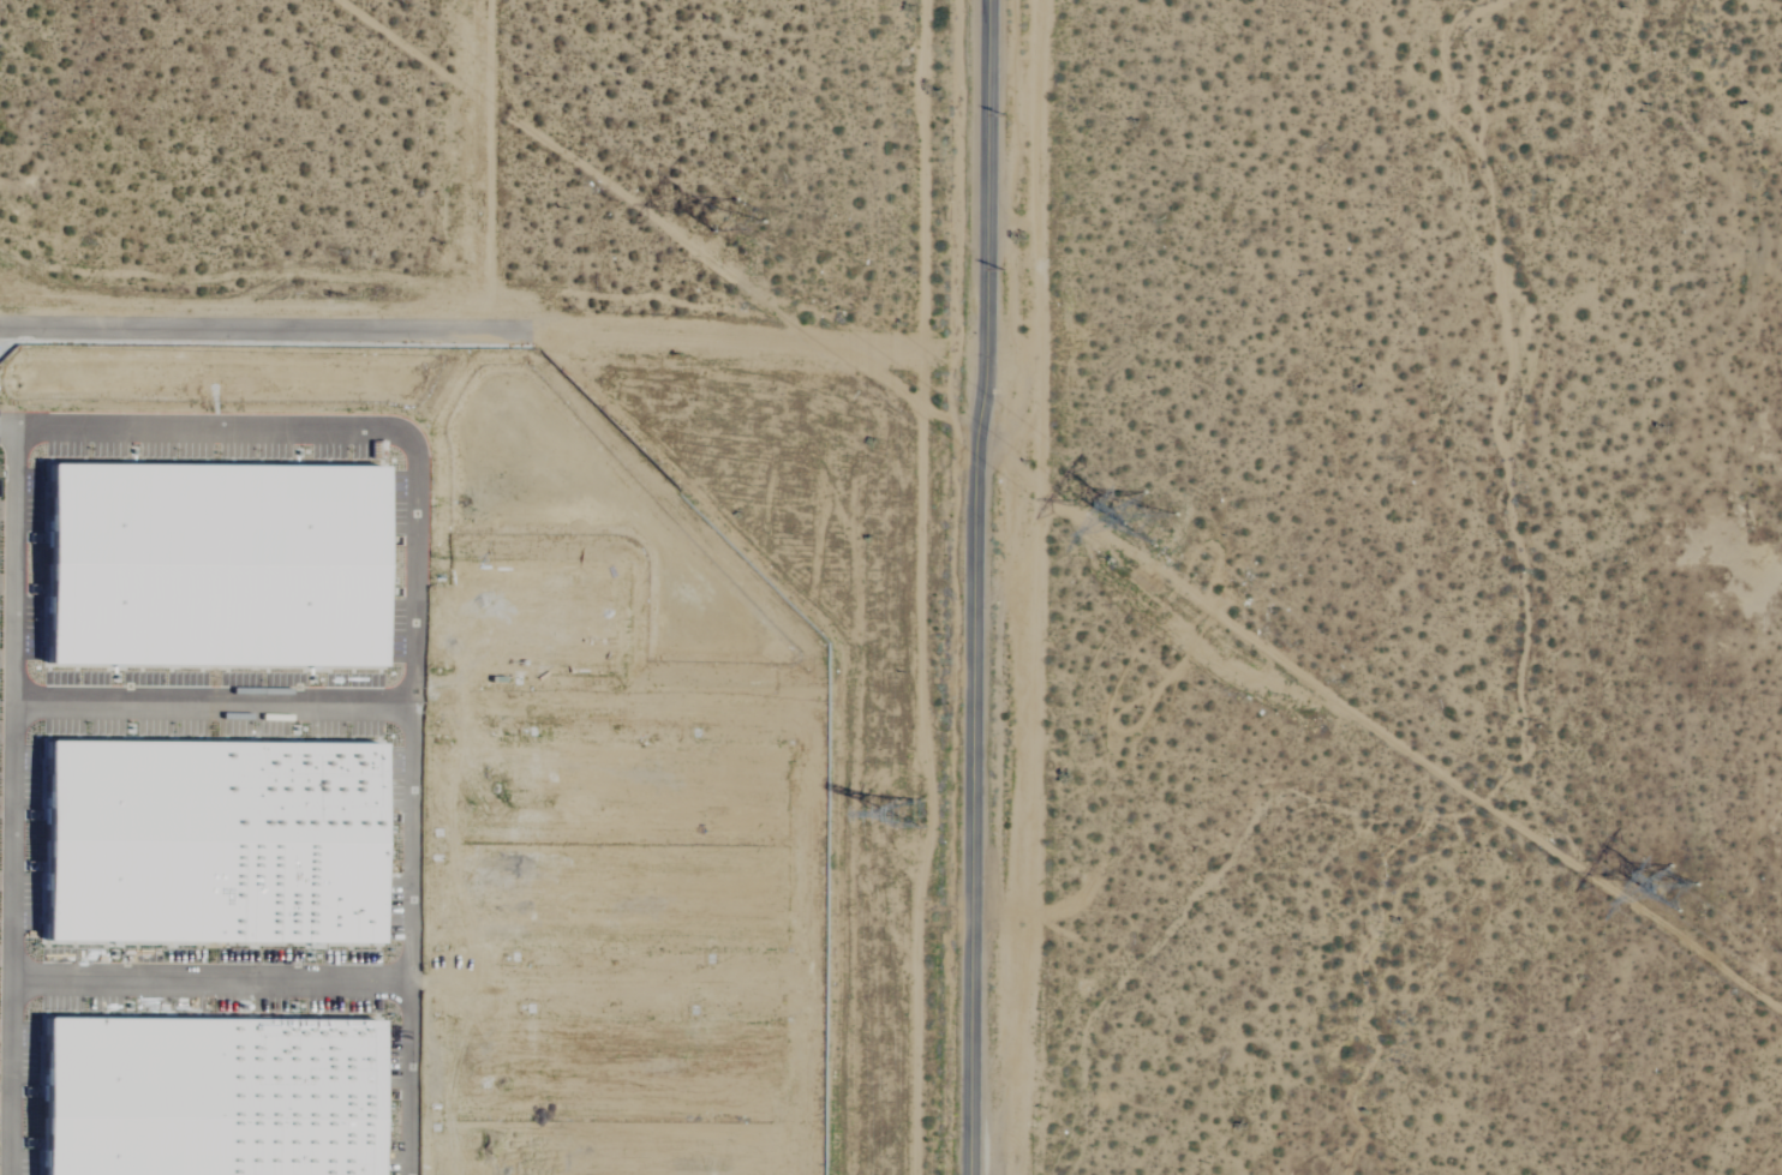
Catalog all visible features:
road: (498, 166)
power tower: (725, 230)
road: (262, 329)
road: (753, 341)
road: (348, 428)
power tower: (1134, 521)
building: (207, 568)
road: (977, 587)
road: (297, 713)
power tower: (921, 808)
building: (208, 843)
power tower: (1674, 887)
road: (11, 942)
road: (211, 981)
building: (203, 1097)

